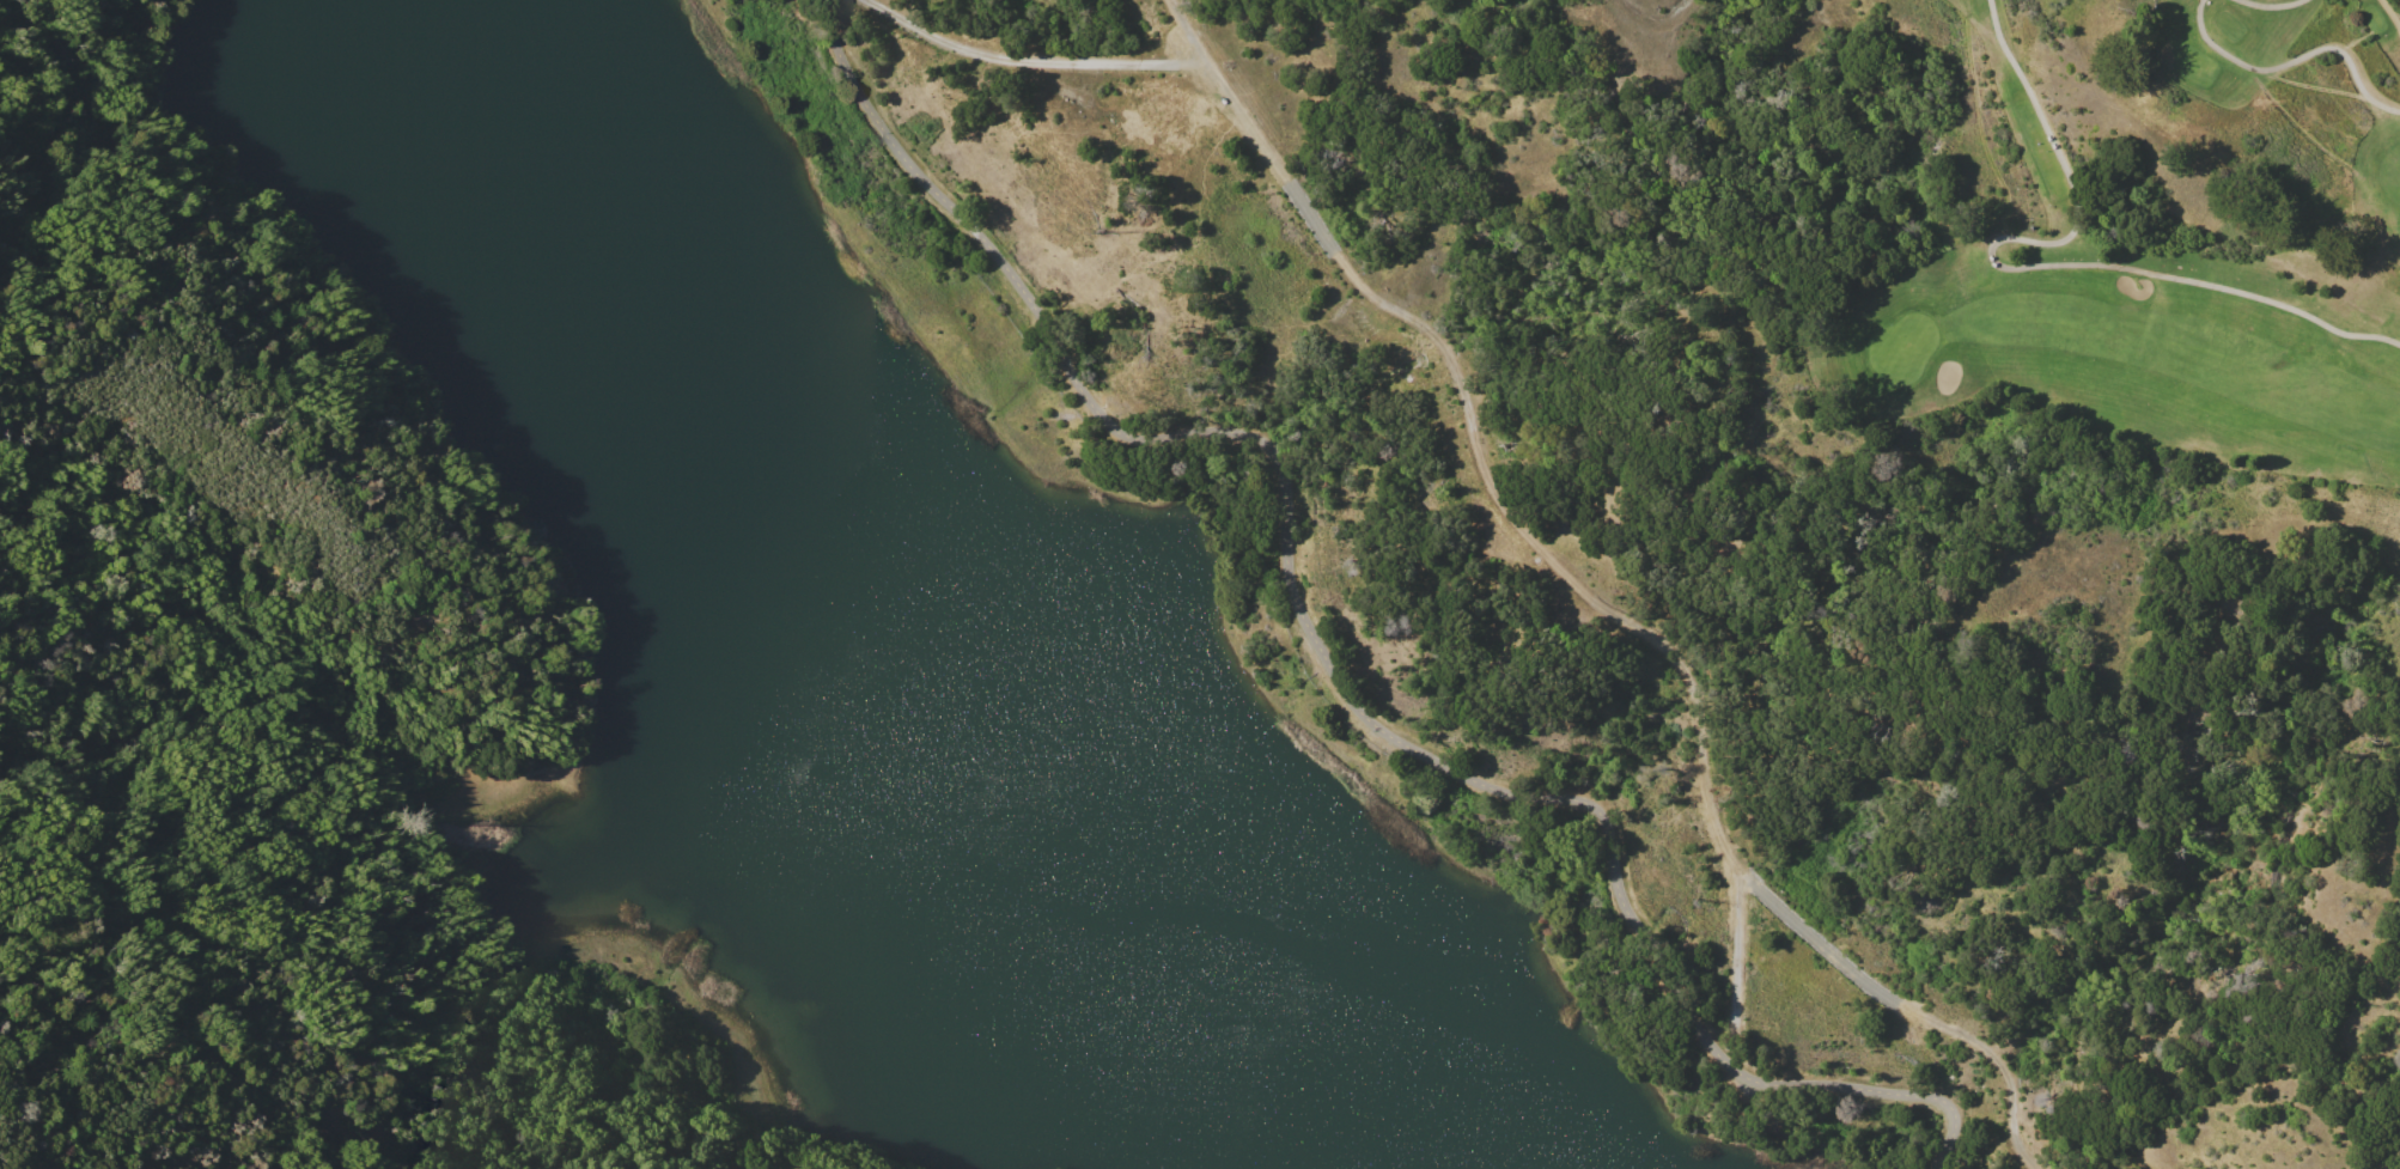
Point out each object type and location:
road: (2271, 5)
road: (1028, 61)
road: (2294, 61)
road: (1224, 91)
road: (1309, 215)
park: (2146, 246)
road: (2024, 267)
park: (1899, 348)
road: (1552, 561)
road: (1322, 652)
road: (1821, 945)
road: (1736, 962)
road: (1999, 1061)

